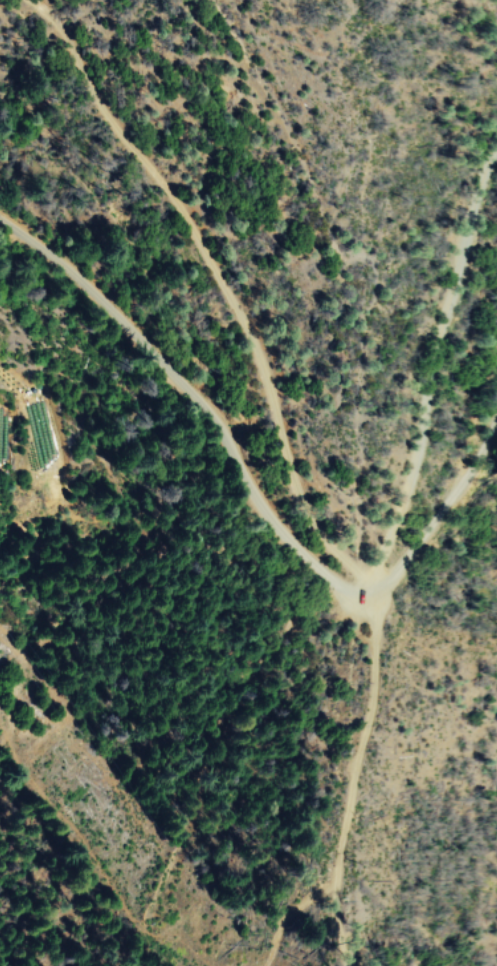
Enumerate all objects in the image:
road: (208, 257)
road: (434, 349)
road: (242, 508)

